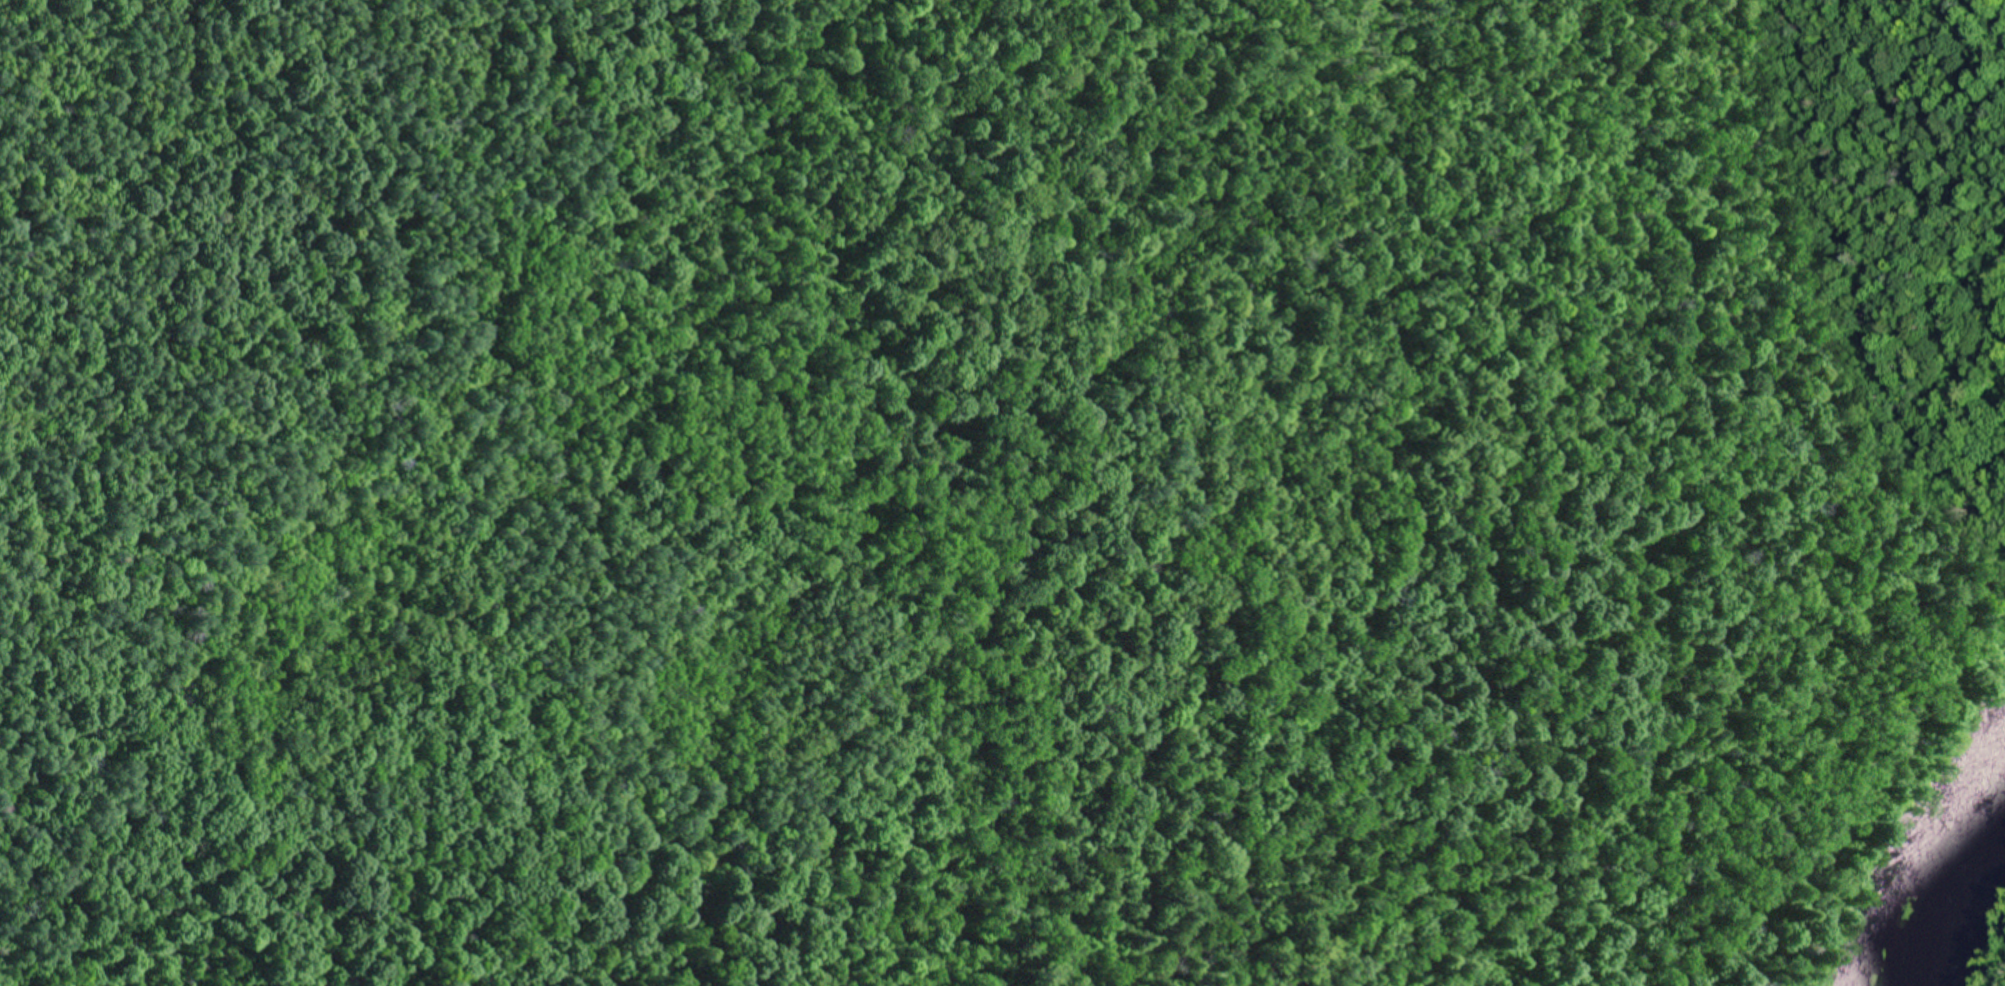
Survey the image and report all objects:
river: (1973, 932)

